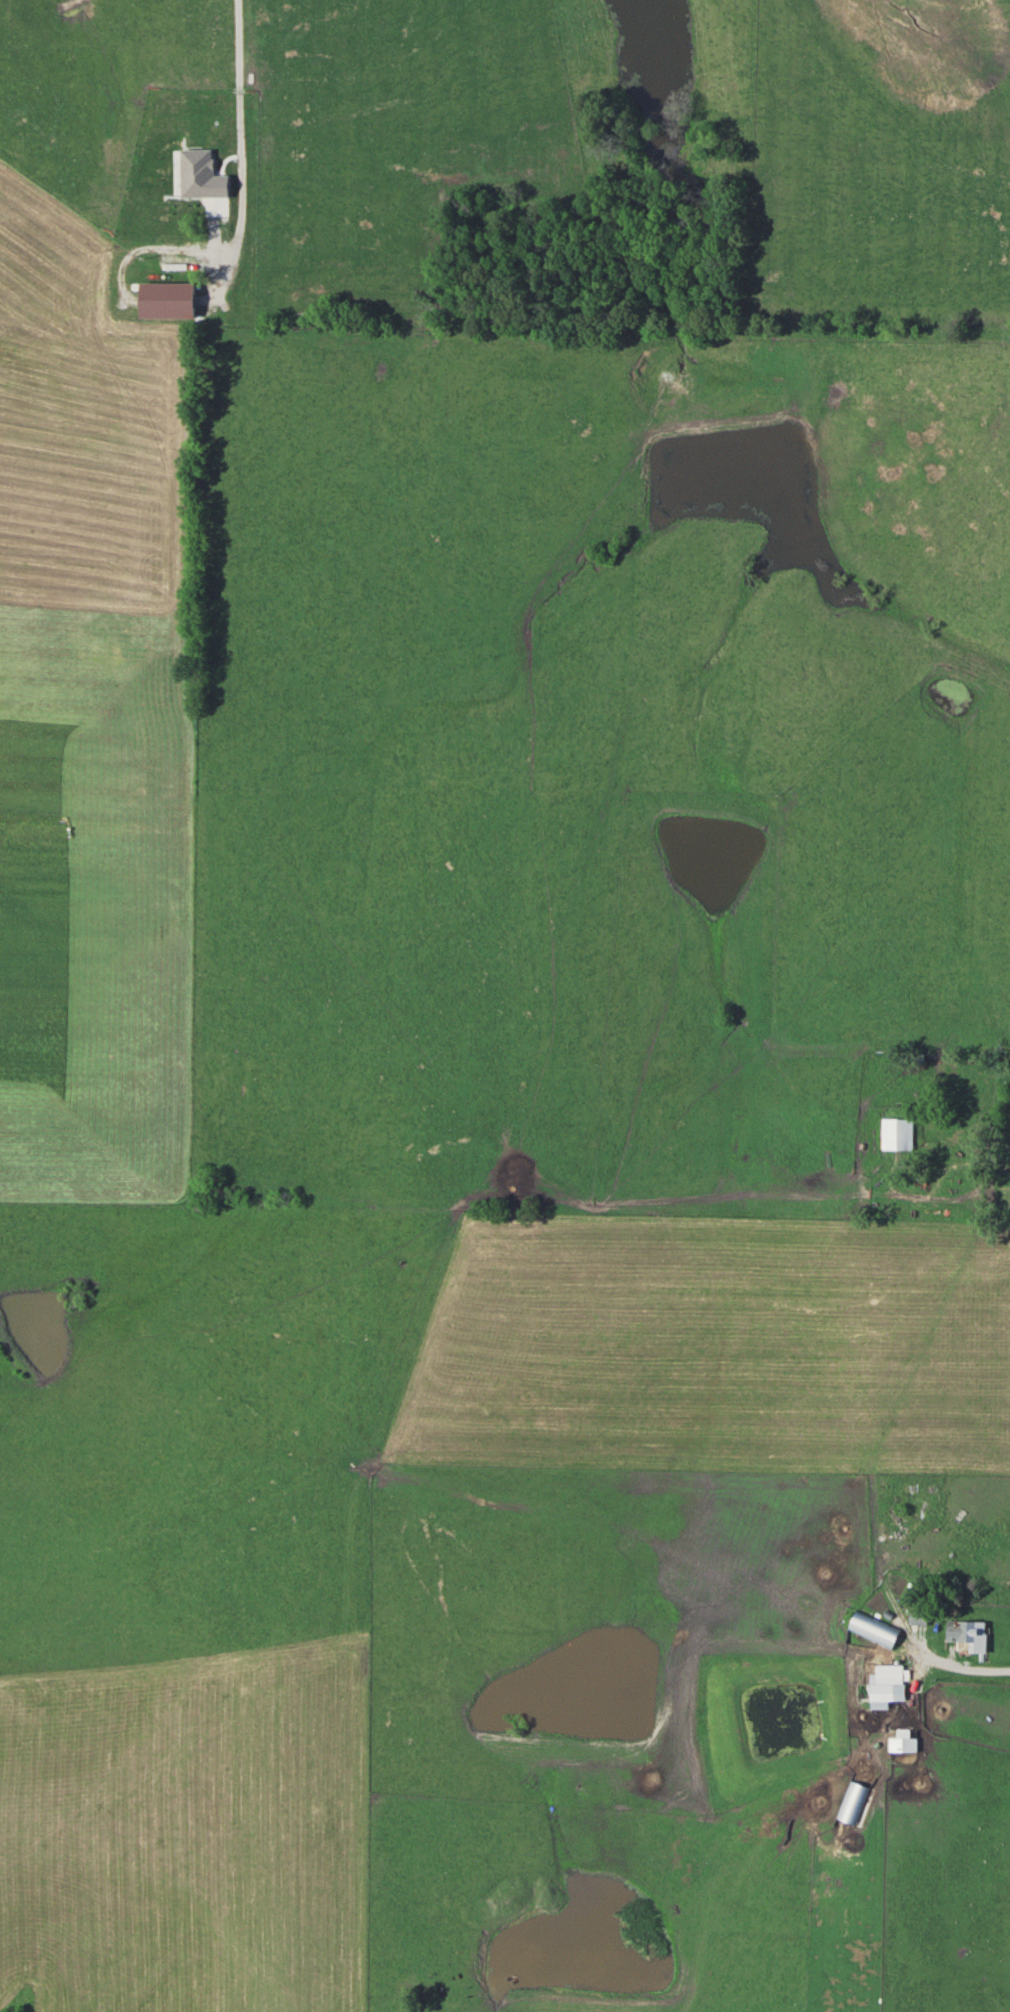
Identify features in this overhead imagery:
building: (899, 1134)
building: (920, 1617)
building: (878, 1630)
building: (967, 1631)
building: (890, 1685)
building: (905, 1742)
building: (855, 1802)

